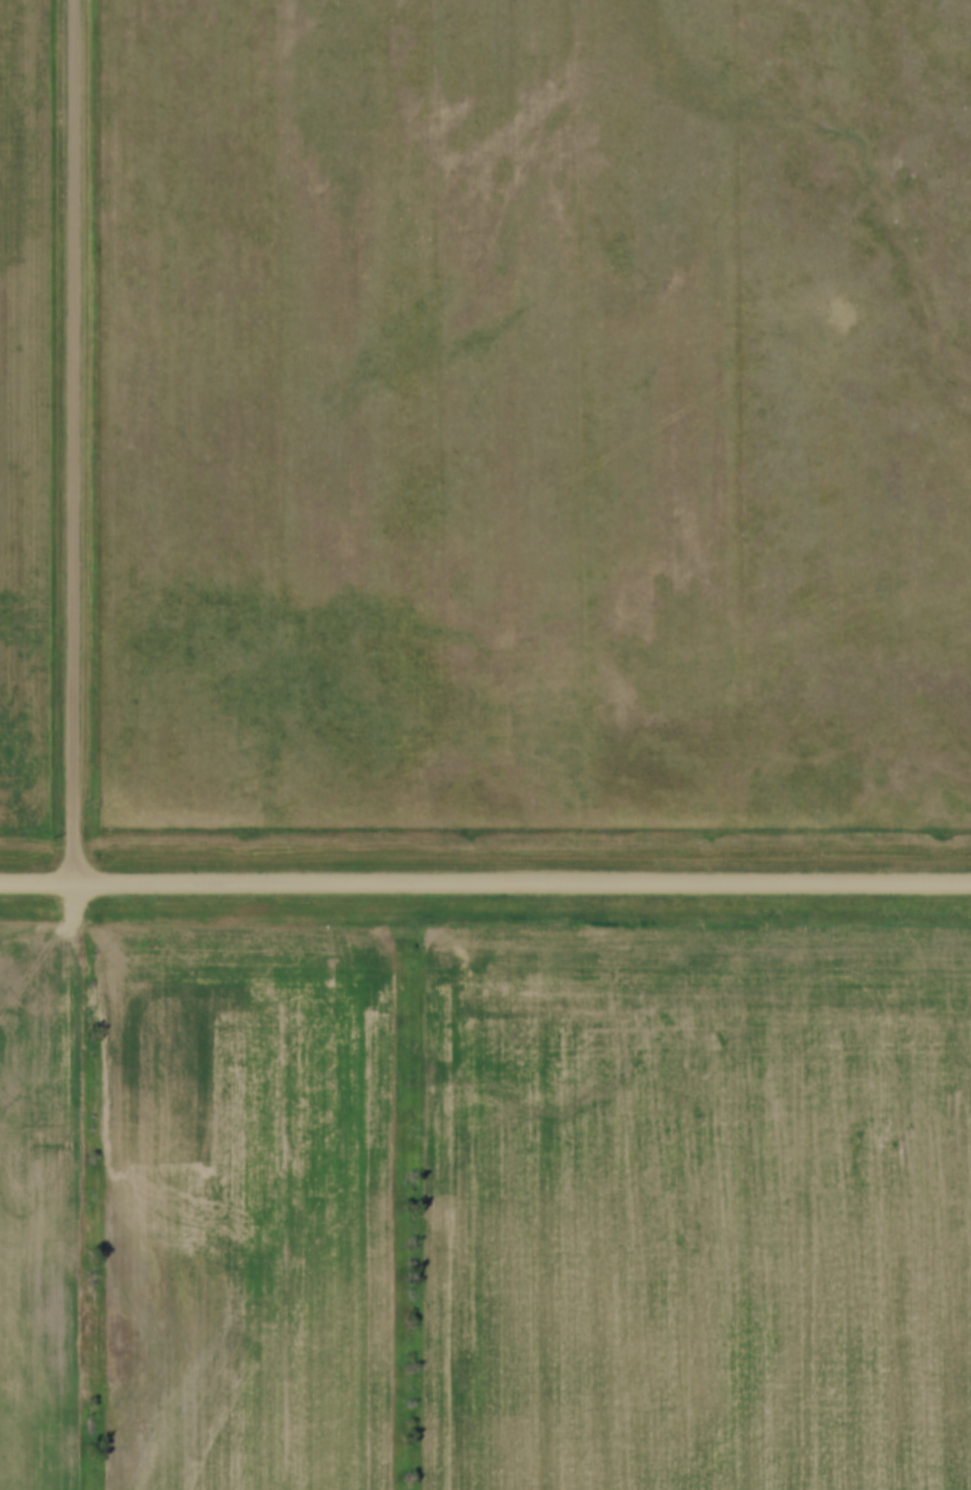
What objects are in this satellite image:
road: (79, 441)
road: (485, 882)

